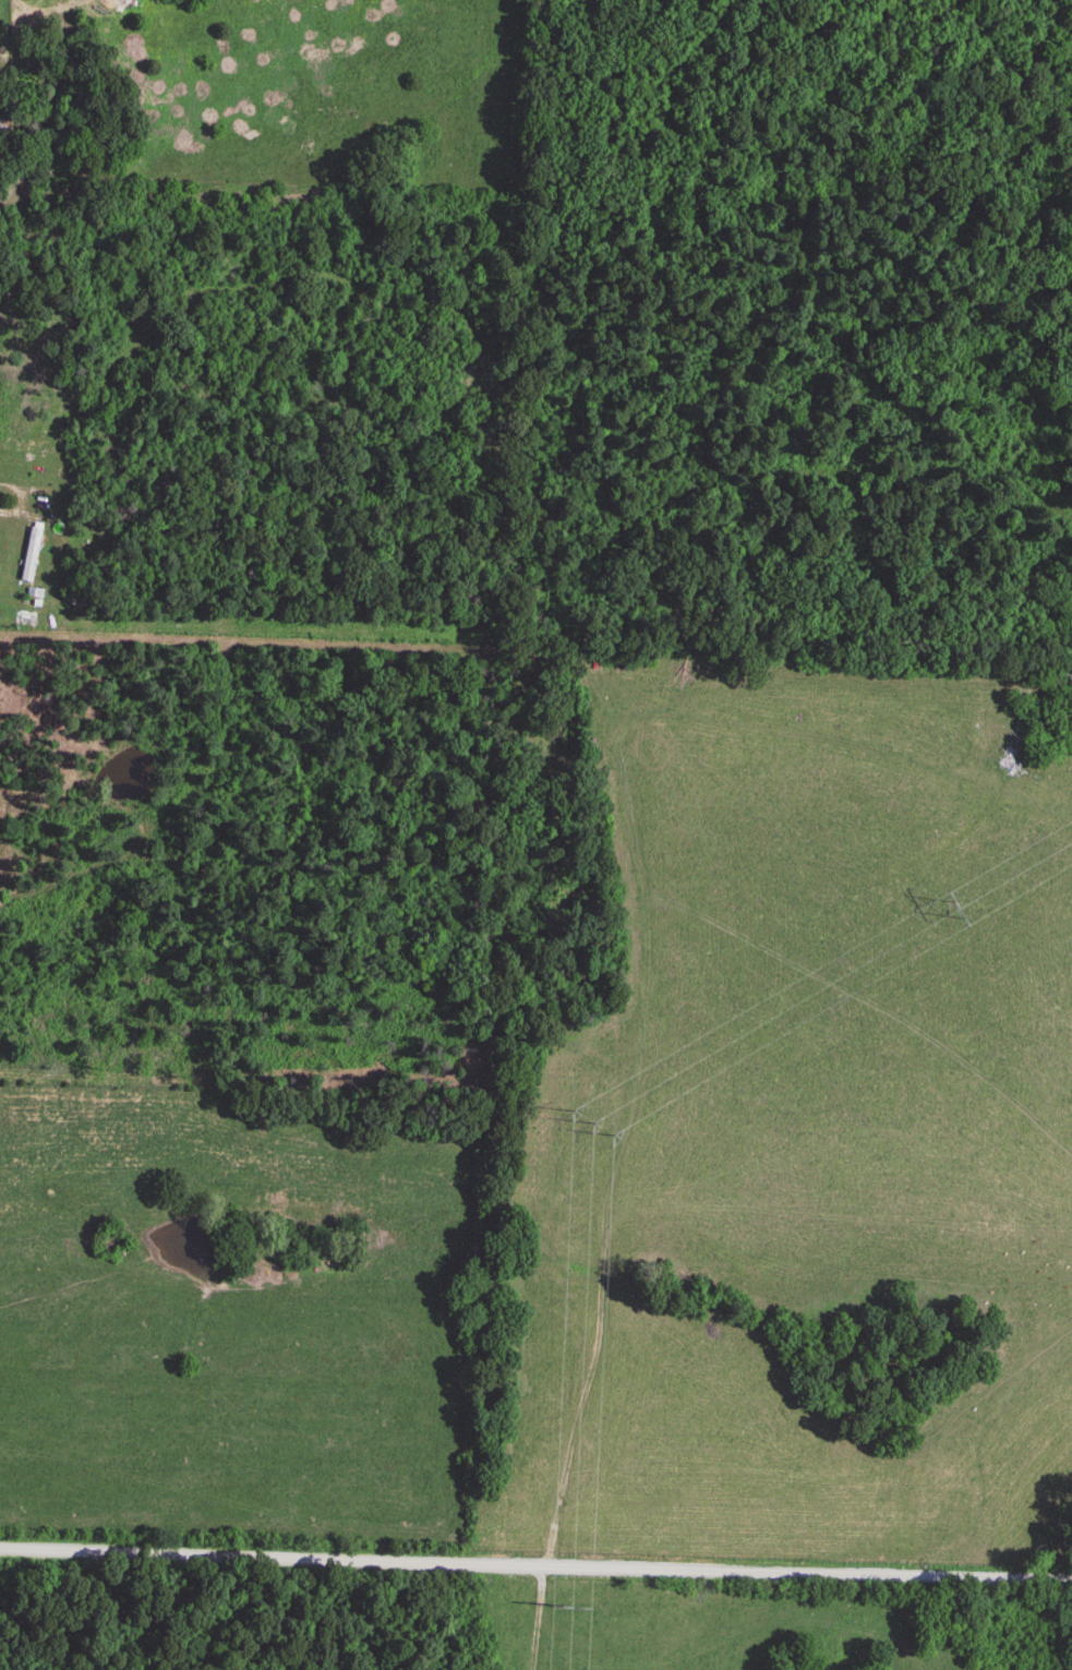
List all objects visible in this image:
building: (615, 704)
power tower: (951, 911)
power tower: (587, 1122)
road: (535, 1570)
power tower: (563, 1603)

